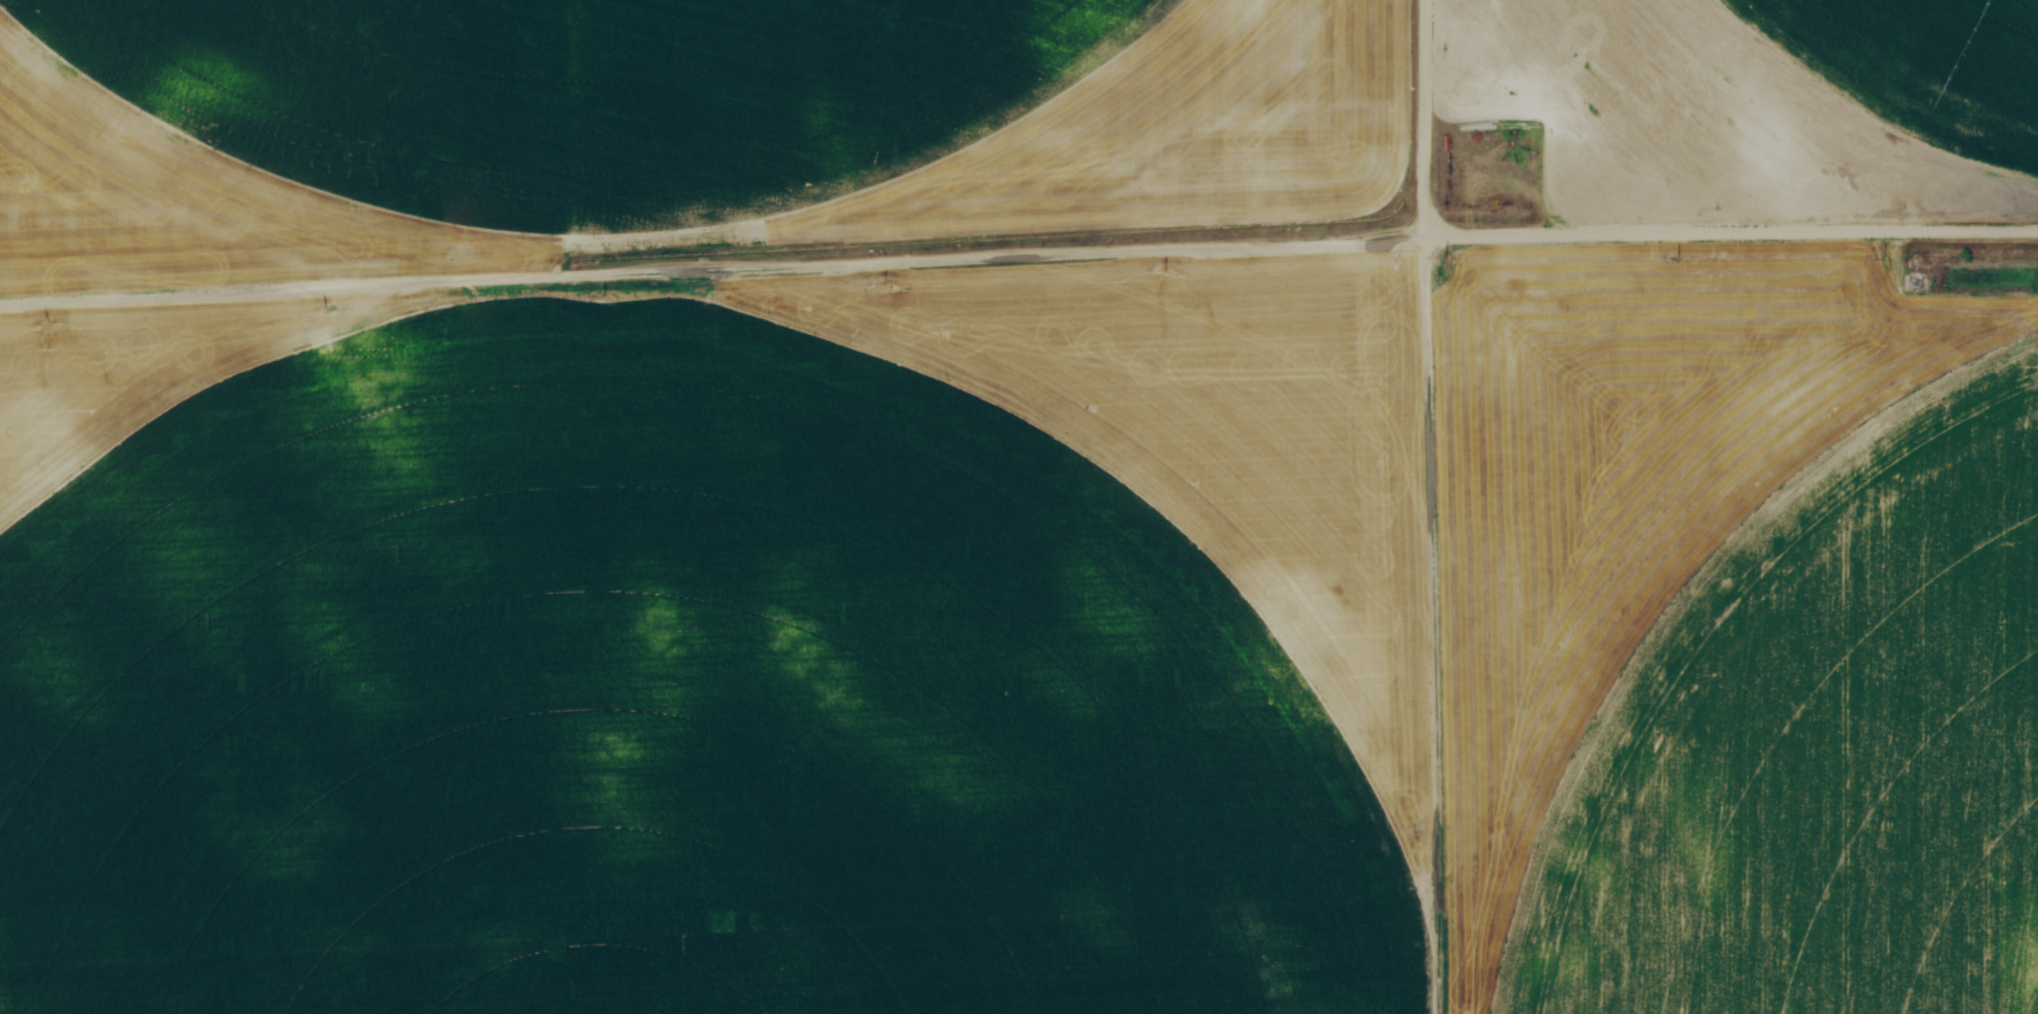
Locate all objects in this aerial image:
crop: (1747, 99)
road: (1424, 117)
road: (1018, 253)
crop: (953, 544)

